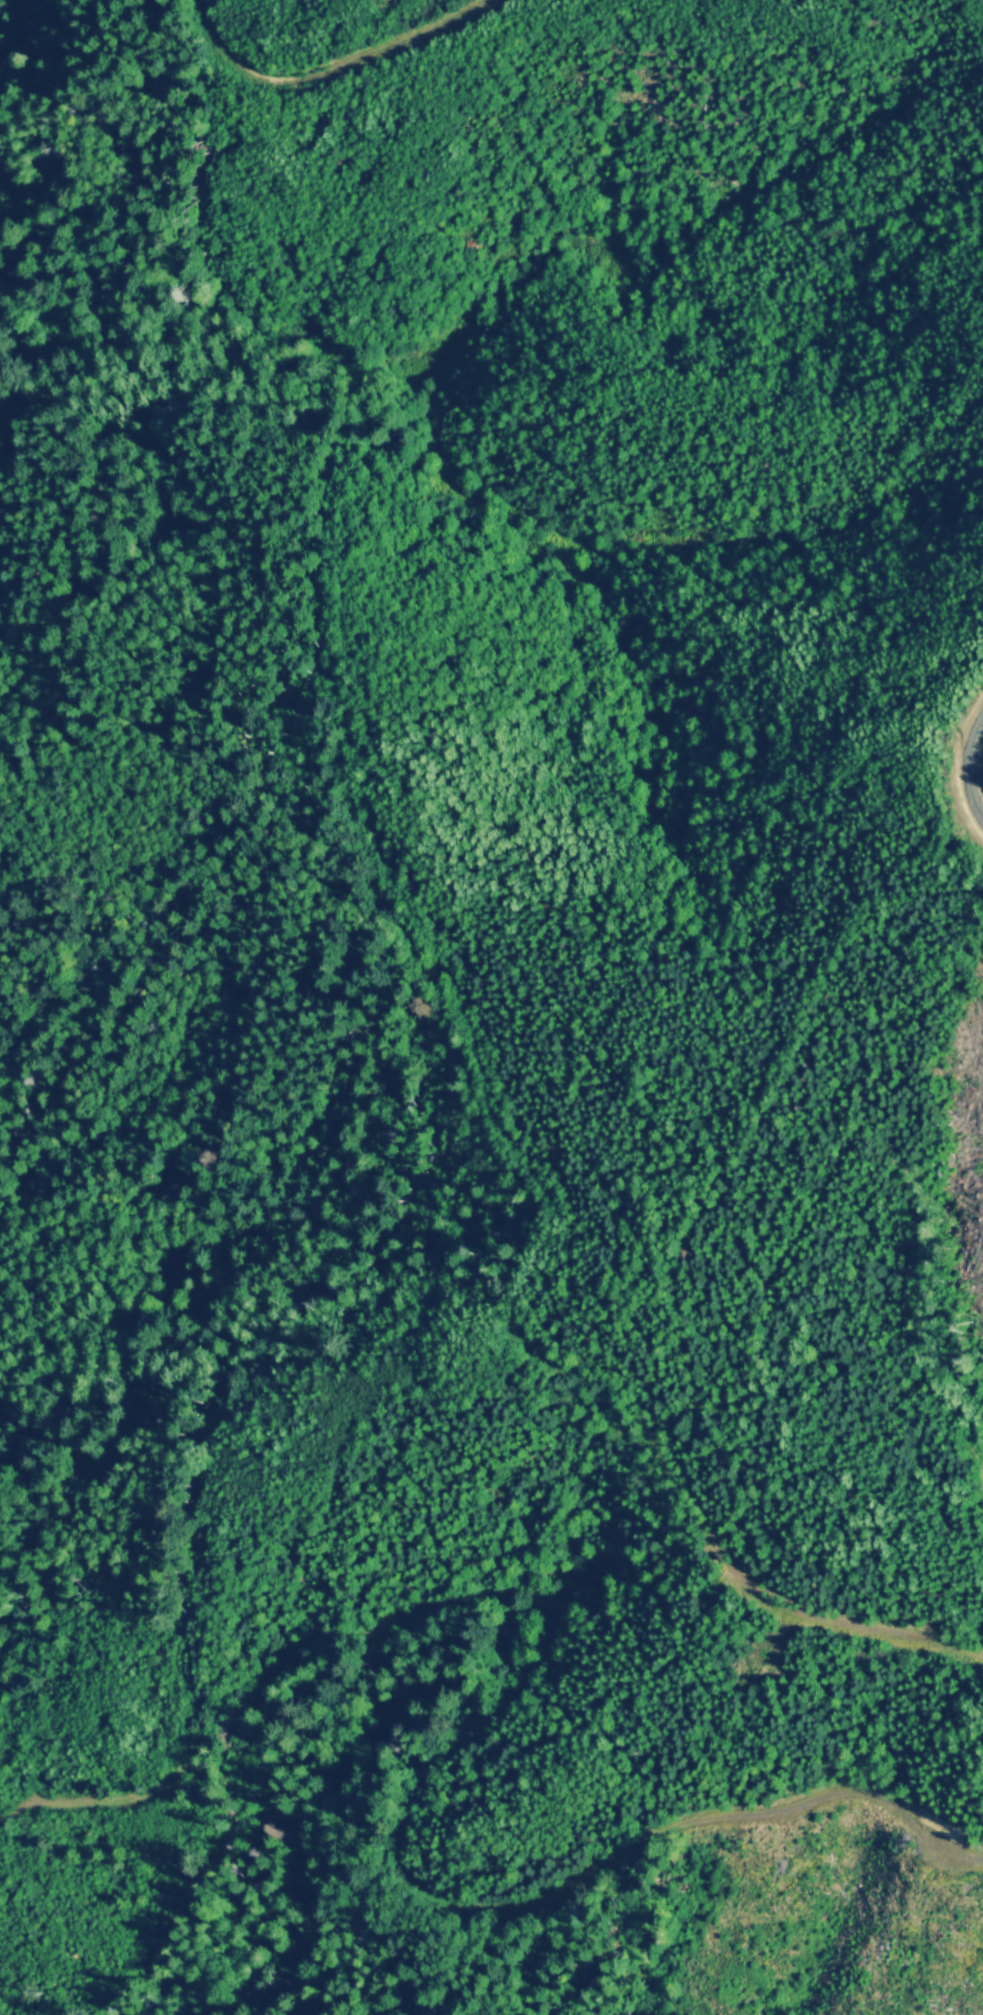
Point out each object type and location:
road: (366, 79)
road: (576, 1366)
road: (467, 1735)

